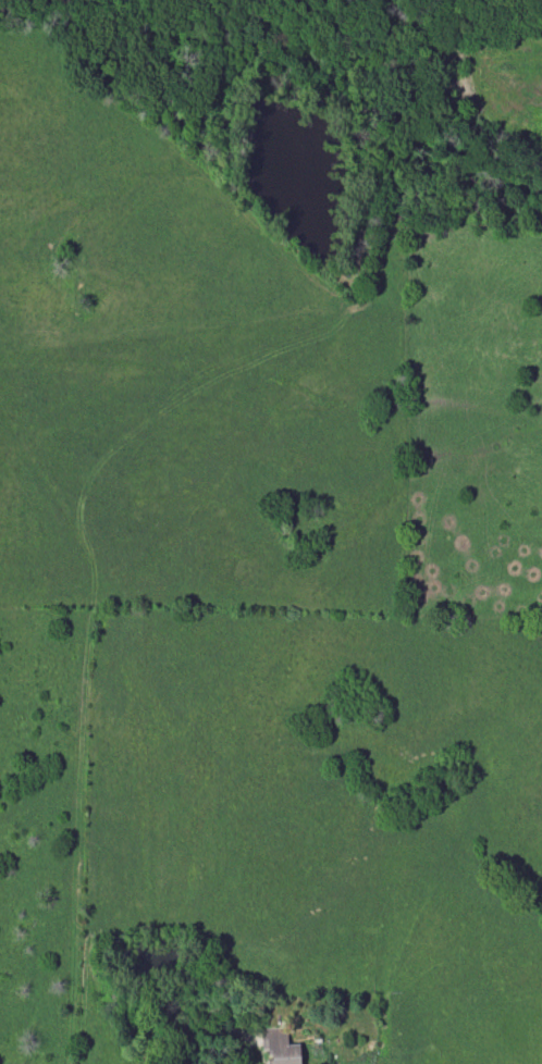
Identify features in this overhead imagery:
road: (188, 1038)
building: (280, 1048)

